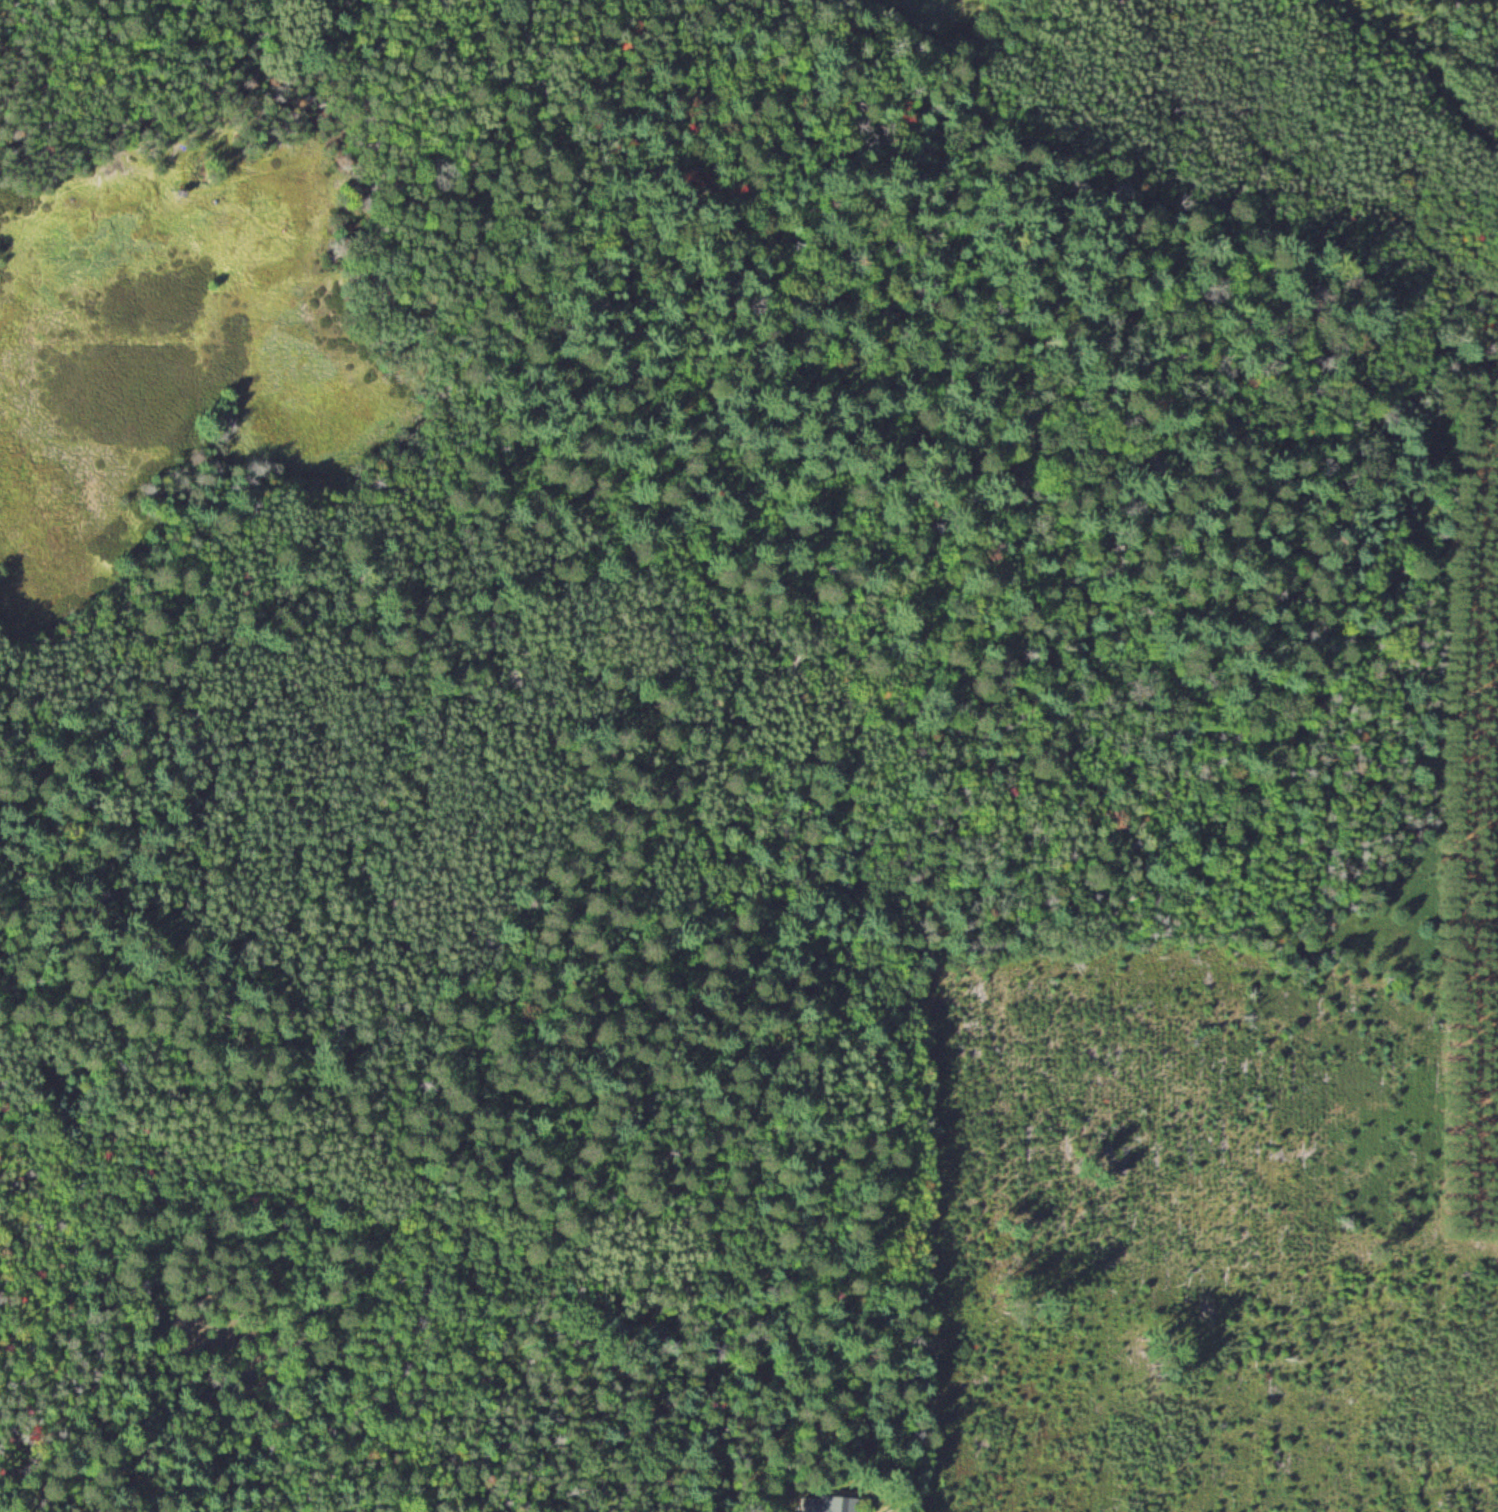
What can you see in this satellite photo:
building: (831, 1504)

